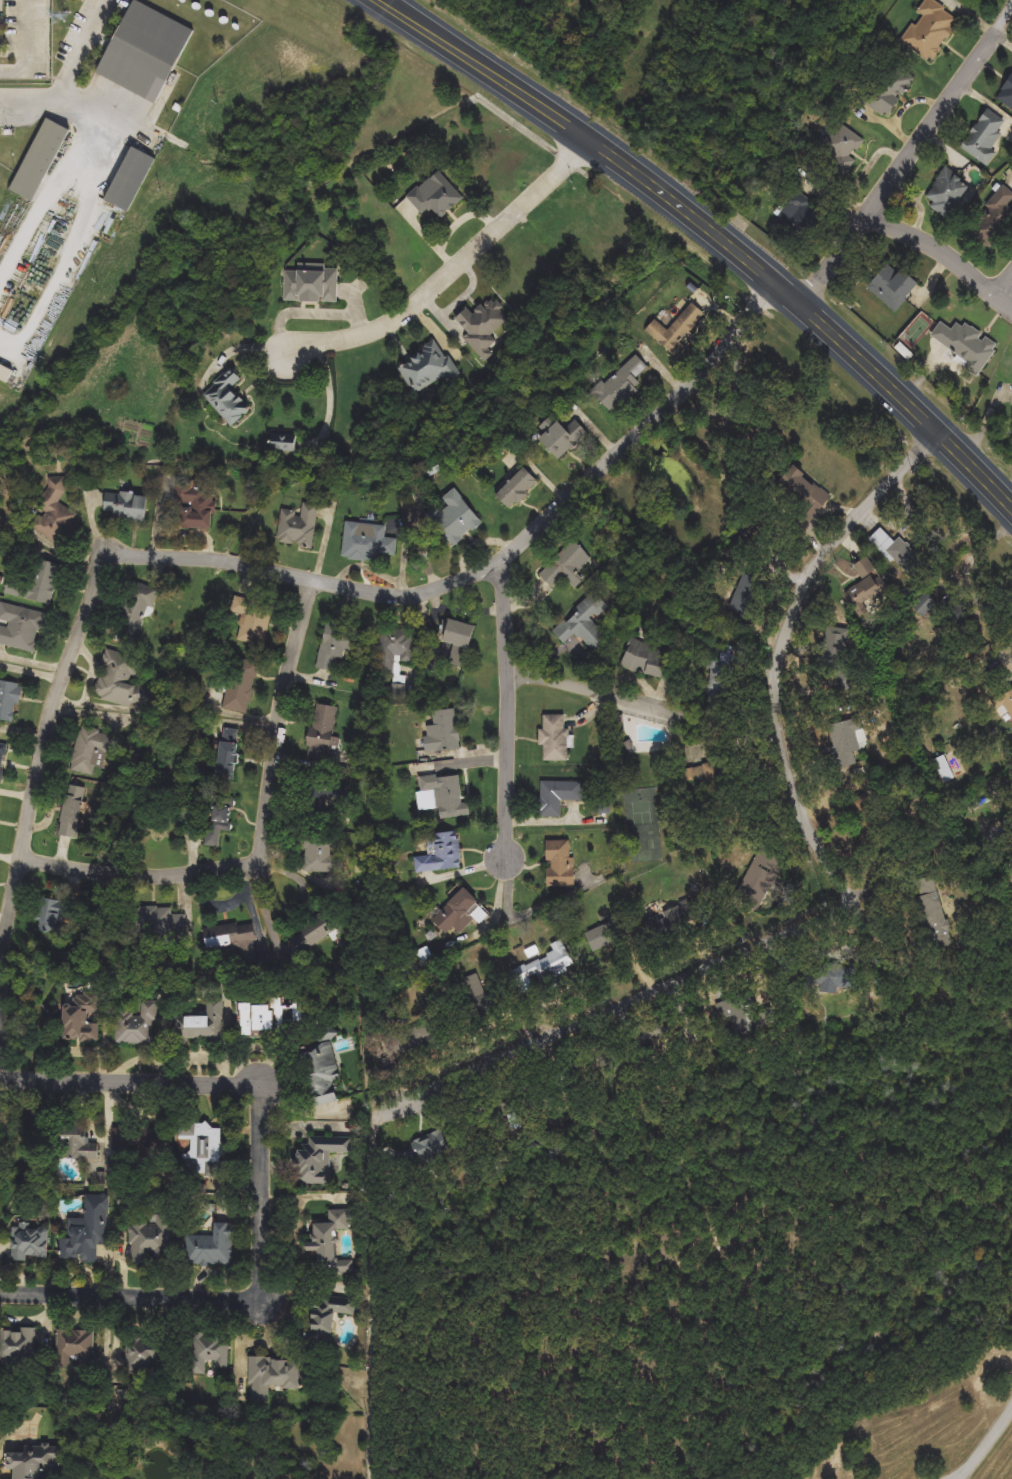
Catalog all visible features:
road: (1008, 21)
building: (932, 28)
parking lot: (25, 34)
road: (28, 47)
road: (86, 48)
building: (145, 51)
road: (488, 69)
building: (1007, 94)
building: (885, 95)
road: (69, 99)
building: (985, 138)
building: (839, 146)
building: (39, 160)
road: (903, 165)
building: (130, 180)
building: (949, 189)
building: (436, 196)
road: (48, 200)
building: (799, 217)
building: (994, 218)
road: (75, 247)
road: (943, 252)
road: (450, 271)
road: (1006, 283)
building: (312, 284)
building: (893, 286)
road: (810, 311)
building: (483, 327)
building: (674, 329)
building: (965, 342)
building: (428, 369)
building: (5, 374)
building: (623, 383)
building: (227, 398)
building: (562, 438)
building: (283, 442)
building: (517, 489)
building: (805, 491)
building: (126, 506)
building: (194, 509)
building: (53, 514)
building: (456, 519)
building: (297, 529)
building: (368, 542)
building: (897, 550)
road: (238, 563)
building: (566, 566)
building: (38, 583)
building: (873, 592)
building: (747, 596)
building: (135, 611)
building: (257, 624)
building: (585, 624)
building: (20, 627)
building: (458, 642)
building: (338, 645)
building: (836, 646)
road: (996, 652)
building: (397, 657)
building: (645, 658)
building: (722, 678)
building: (122, 680)
building: (241, 686)
road: (784, 692)
building: (9, 700)
building: (1008, 704)
road: (649, 705)
road: (508, 712)
building: (321, 733)
building: (445, 733)
building: (555, 739)
building: (846, 739)
building: (626, 744)
building: (90, 750)
building: (227, 752)
building: (2, 759)
building: (944, 770)
building: (706, 779)
building: (322, 794)
building: (445, 796)
building: (559, 796)
building: (603, 807)
building: (73, 811)
building: (873, 819)
park: (640, 823)
building: (216, 826)
road: (266, 838)
building: (322, 853)
building: (440, 854)
building: (560, 864)
building: (760, 874)
building: (57, 913)
building: (460, 913)
building: (668, 919)
building: (165, 922)
building: (938, 924)
building: (318, 928)
building: (602, 937)
building: (234, 941)
building: (545, 967)
building: (829, 978)
building: (475, 994)
road: (617, 1011)
building: (736, 1017)
building: (81, 1018)
building: (268, 1018)
building: (137, 1024)
building: (203, 1025)
building: (399, 1040)
building: (652, 1045)
building: (323, 1066)
building: (576, 1075)
road: (131, 1084)
building: (501, 1111)
building: (140, 1140)
building: (75, 1142)
building: (201, 1144)
building: (422, 1150)
building: (319, 1159)
road: (264, 1194)
building: (87, 1232)
building: (152, 1241)
building: (329, 1241)
building: (29, 1242)
building: (212, 1248)
road: (371, 1296)
road: (133, 1298)
building: (327, 1316)
building: (18, 1346)
building: (76, 1349)
building: (210, 1352)
building: (142, 1356)
building: (272, 1376)
road: (987, 1446)
building: (36, 1462)

